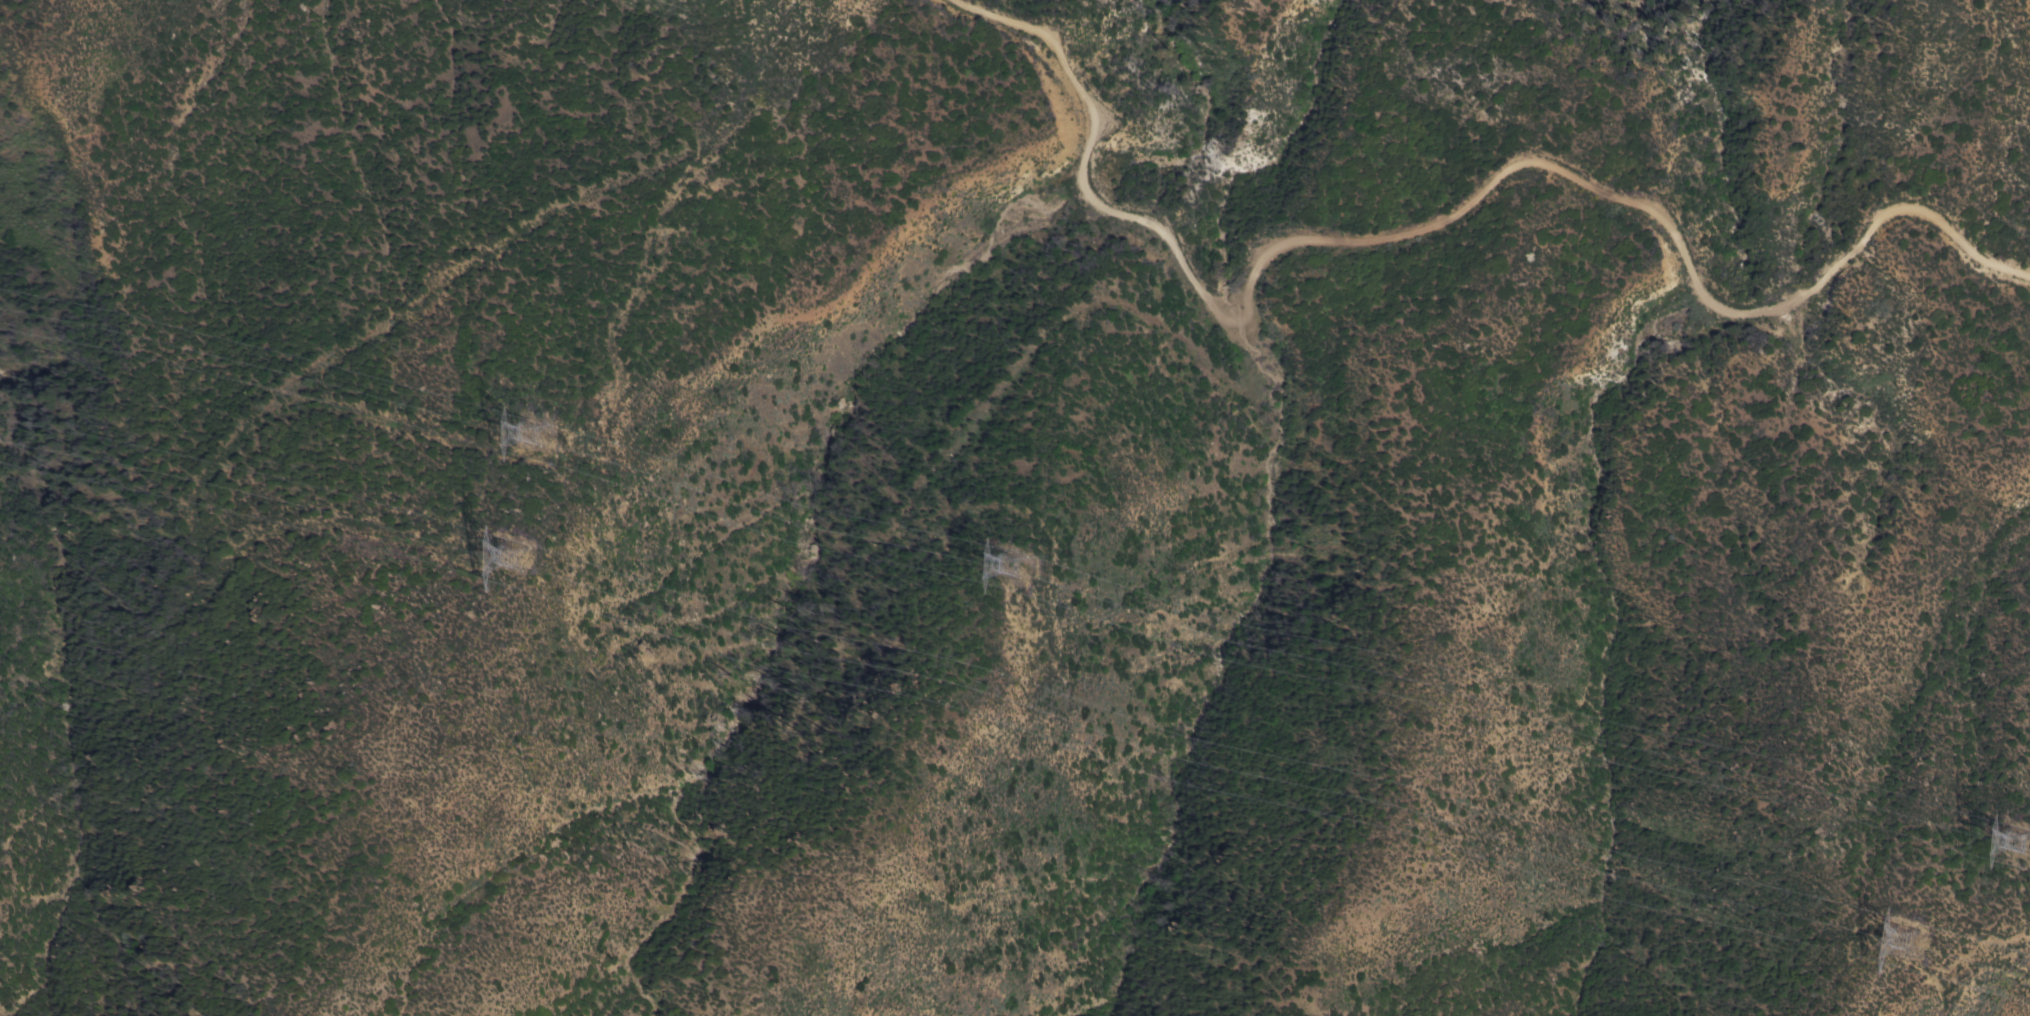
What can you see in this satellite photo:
road: (1448, 222)
power tower: (529, 417)
power tower: (515, 551)
power tower: (1010, 557)
power tower: (2027, 854)
power tower: (1913, 937)

